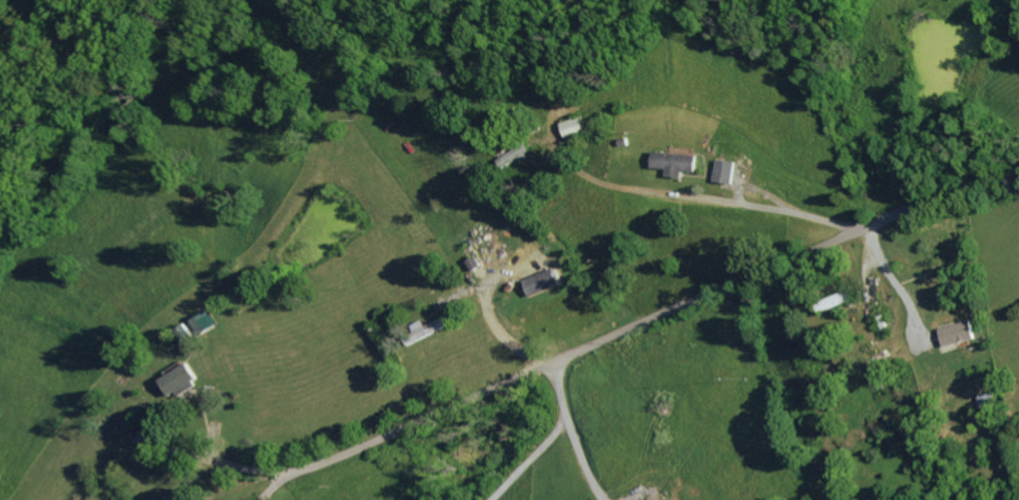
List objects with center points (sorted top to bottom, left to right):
building: (575, 126)
building: (517, 155)
building: (679, 162)
building: (728, 171)
road: (720, 202)
road: (897, 277)
building: (545, 281)
building: (838, 298)
road: (656, 313)
building: (206, 322)
building: (187, 333)
building: (961, 333)
building: (182, 381)
road: (546, 439)
road: (580, 460)
road: (241, 466)
road: (281, 483)

